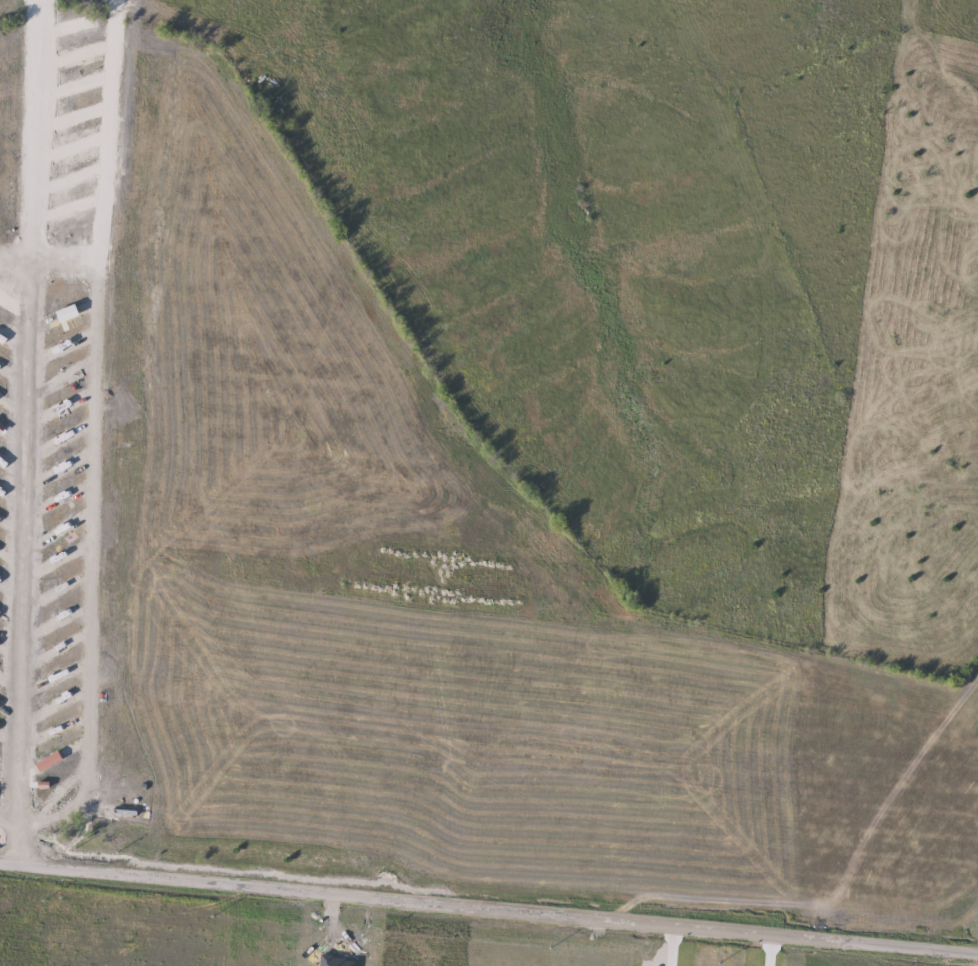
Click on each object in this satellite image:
road: (39, 136)
road: (26, 526)
road: (9, 820)
road: (18, 842)
road: (489, 905)

